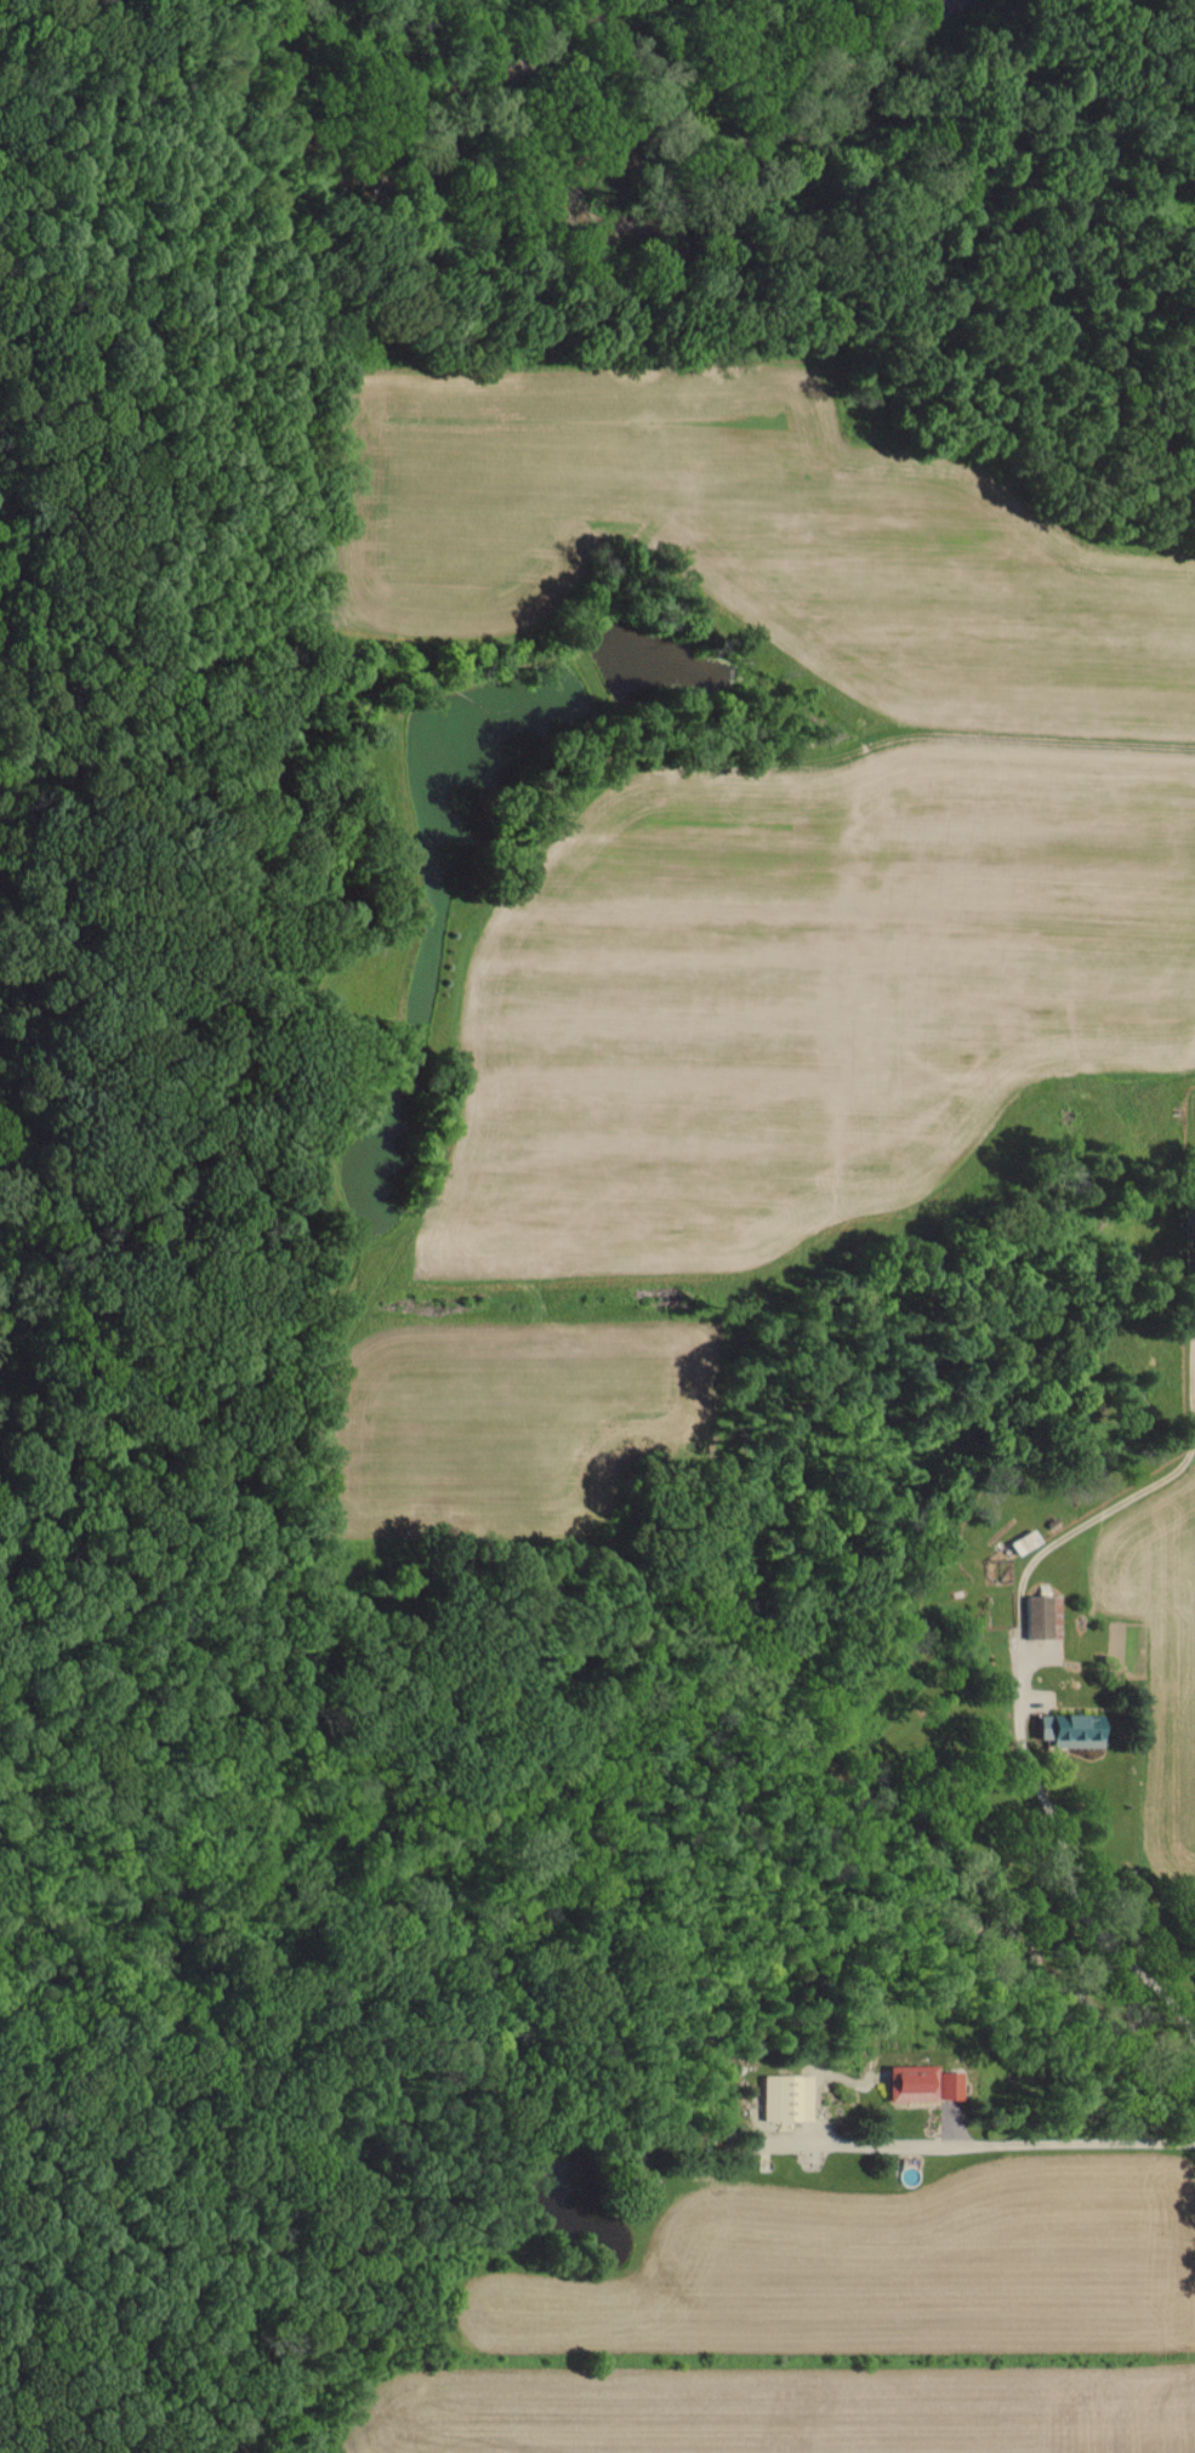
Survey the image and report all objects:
building: (1040, 1615)
road: (1024, 1628)
building: (1066, 1728)
building: (918, 2082)
building: (784, 2096)
road: (996, 2142)

